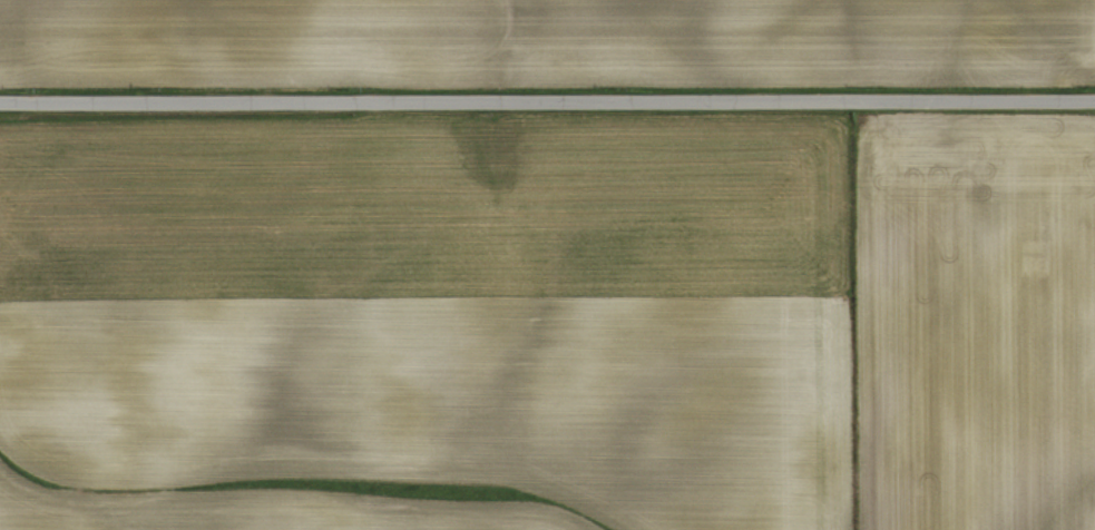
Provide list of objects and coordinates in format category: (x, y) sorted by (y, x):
road: (547, 96)

